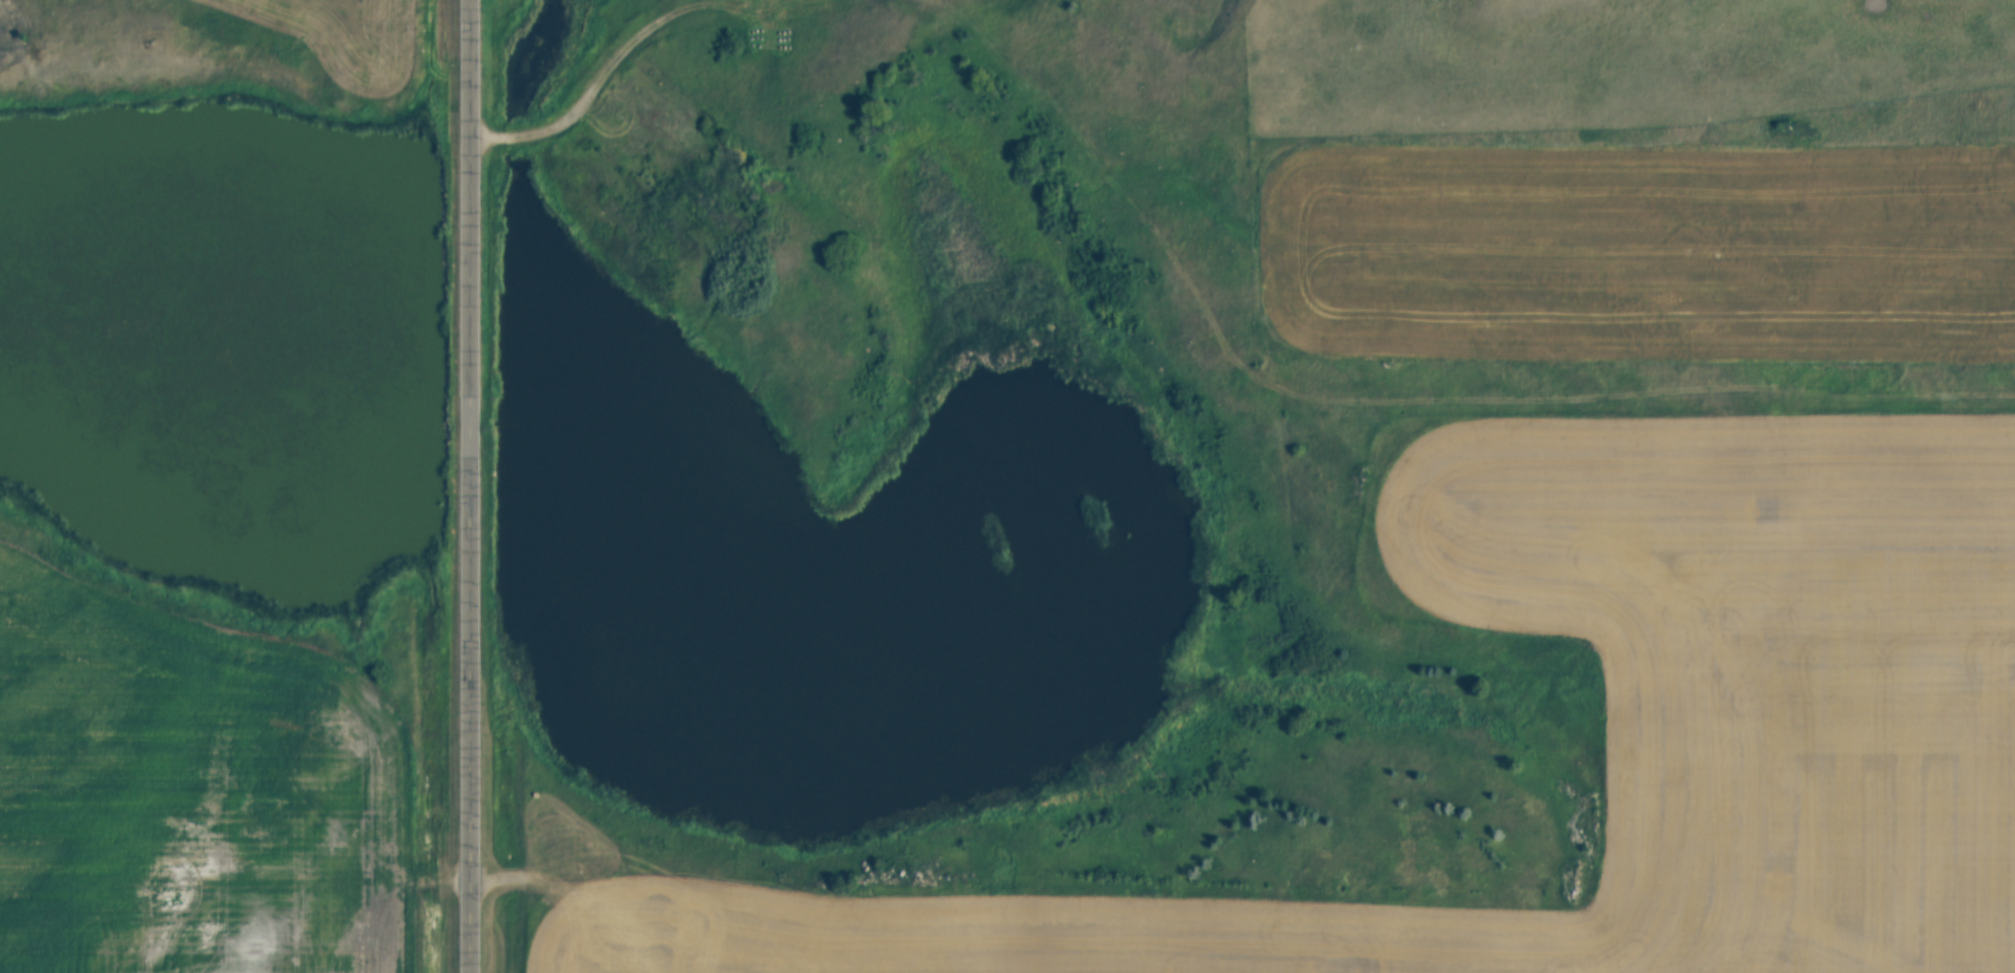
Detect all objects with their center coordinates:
road: (590, 93)
road: (1386, 398)
road: (470, 486)

